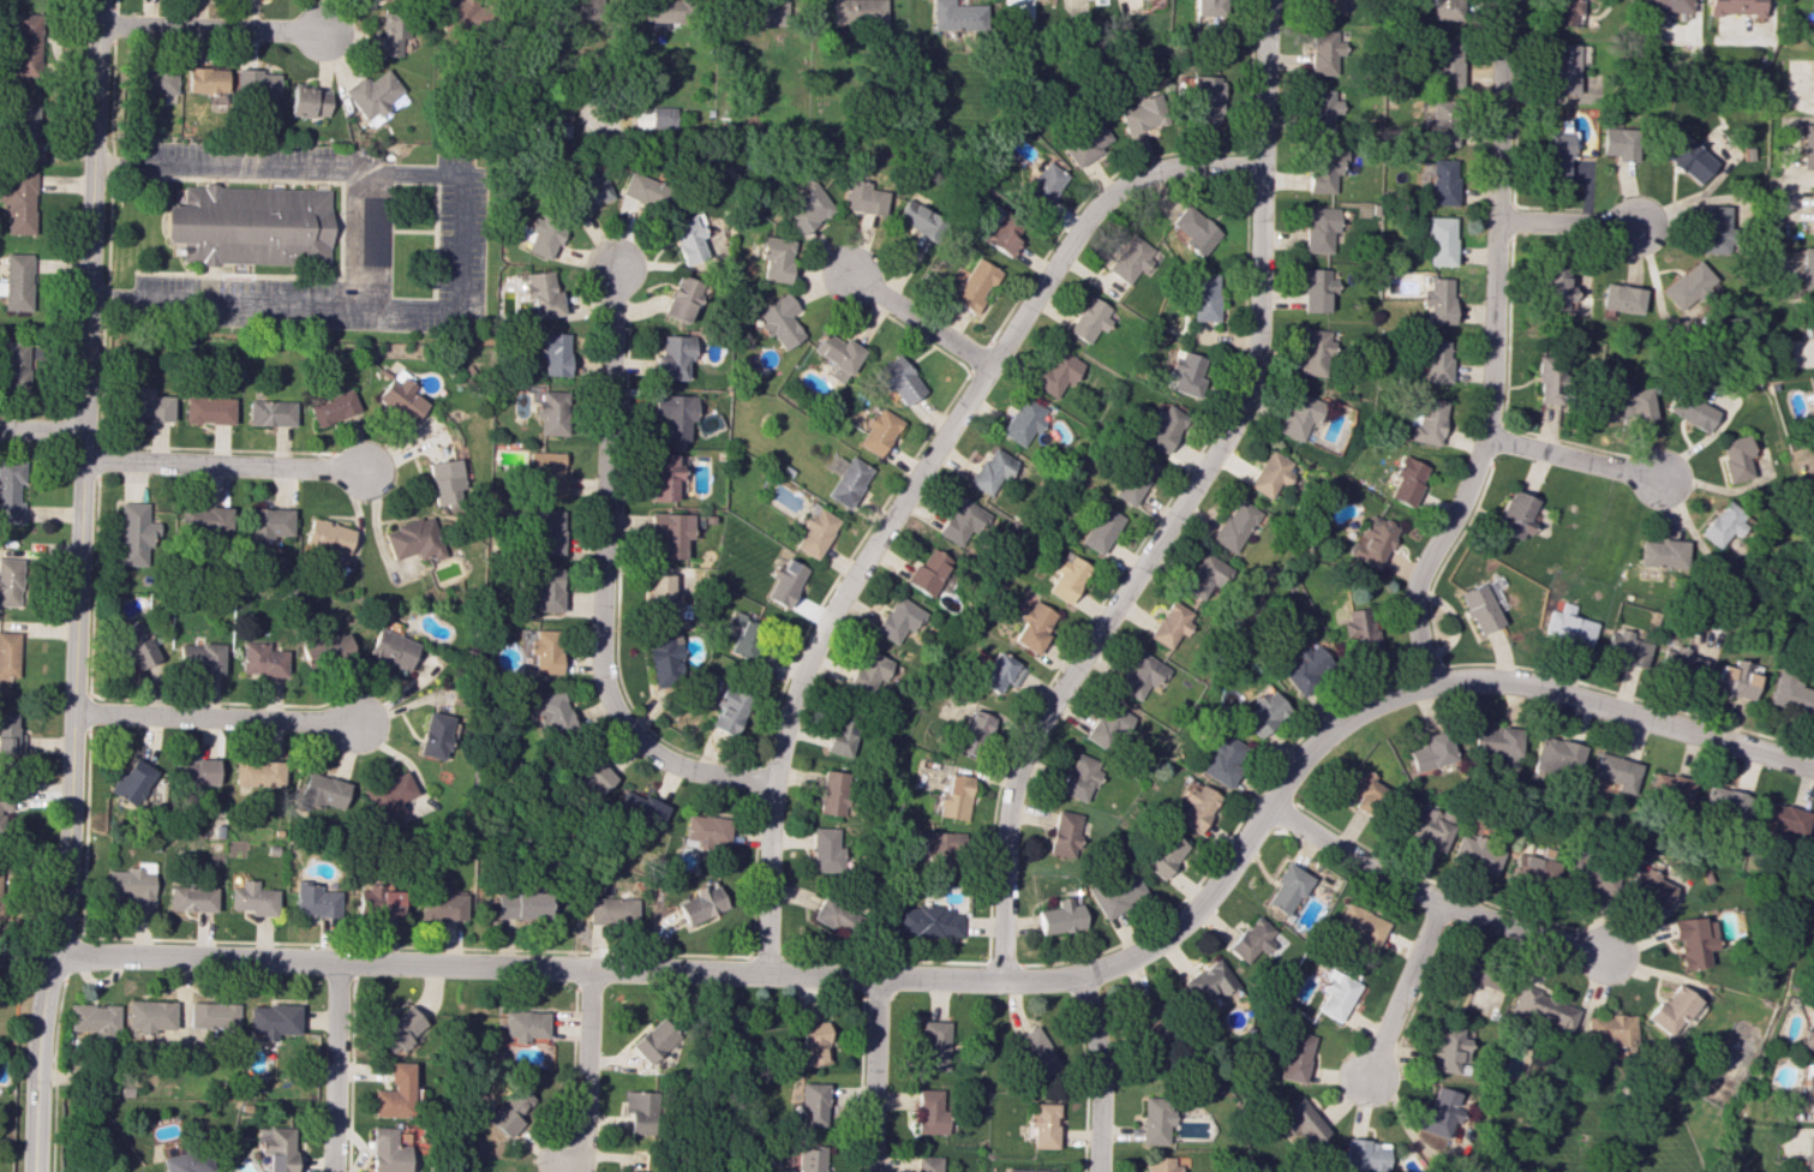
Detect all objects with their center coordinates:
building: (1098, 1)
building: (1665, 5)
building: (1207, 6)
building: (1325, 6)
building: (1734, 7)
building: (1444, 8)
building: (573, 10)
building: (857, 11)
building: (1563, 11)
building: (661, 12)
building: (765, 12)
building: (461, 13)
building: (954, 16)
road: (212, 29)
building: (396, 32)
building: (26, 46)
building: (1323, 52)
road: (615, 54)
building: (1447, 62)
building: (1564, 66)
building: (156, 79)
building: (208, 79)
building: (257, 83)
building: (372, 95)
building: (1207, 98)
building: (310, 102)
building: (1323, 109)
building: (1143, 114)
building: (657, 118)
building: (1443, 122)
building: (24, 131)
building: (1085, 140)
building: (1620, 143)
building: (1807, 146)
building: (1556, 155)
building: (1687, 159)
building: (1323, 169)
road: (324, 181)
building: (1443, 181)
building: (1044, 184)
building: (591, 187)
building: (641, 192)
building: (863, 197)
building: (18, 201)
building: (807, 210)
building: (1812, 213)
building: (918, 219)
road: (1567, 223)
building: (255, 225)
building: (1319, 228)
building: (1713, 228)
building: (1193, 229)
road: (415, 231)
parking lot: (417, 231)
building: (1000, 233)
building: (541, 237)
building: (689, 238)
road: (373, 239)
building: (1441, 240)
road: (436, 241)
road: (462, 241)
building: (776, 257)
building: (1132, 259)
building: (1806, 268)
building: (17, 282)
building: (974, 286)
building: (1687, 286)
building: (1553, 287)
building: (1316, 289)
building: (543, 294)
building: (681, 298)
building: (1202, 298)
building: (1621, 298)
building: (1439, 300)
building: (1089, 319)
building: (779, 321)
road: (922, 321)
building: (1809, 328)
building: (552, 352)
building: (1315, 352)
road: (1491, 352)
building: (837, 354)
building: (672, 357)
building: (1436, 359)
building: (16, 364)
building: (1056, 372)
building: (1185, 372)
building: (898, 378)
building: (1550, 379)
building: (402, 396)
building: (1812, 400)
building: (1627, 402)
building: (149, 405)
building: (334, 407)
building: (1692, 408)
building: (209, 409)
building: (271, 412)
building: (552, 412)
building: (675, 414)
building: (1298, 417)
building: (1023, 421)
building: (1427, 421)
building: (1161, 426)
road: (41, 430)
building: (878, 431)
building: (1734, 458)
road: (1573, 461)
road: (222, 466)
building: (547, 472)
building: (992, 472)
building: (1271, 473)
building: (663, 477)
building: (1133, 479)
building: (846, 480)
building: (1408, 480)
building: (445, 483)
building: (10, 491)
road: (909, 491)
road: (1181, 504)
building: (1515, 514)
building: (204, 520)
building: (960, 522)
building: (268, 524)
building: (1235, 525)
building: (1720, 526)
building: (1100, 530)
building: (814, 531)
building: (549, 532)
building: (671, 532)
building: (134, 534)
building: (328, 536)
building: (414, 539)
building: (1372, 540)
building: (1660, 554)
building: (927, 572)
building: (1204, 575)
building: (1066, 576)
road: (606, 580)
building: (10, 581)
building: (784, 582)
road: (77, 587)
building: (546, 588)
building: (661, 597)
building: (1481, 605)
building: (897, 620)
building: (1171, 624)
building: (1034, 626)
building: (1359, 628)
building: (1570, 629)
building: (744, 638)
building: (138, 644)
building: (1623, 647)
building: (390, 648)
building: (324, 650)
building: (545, 651)
building: (8, 653)
building: (200, 657)
building: (261, 659)
building: (663, 659)
building: (1678, 662)
building: (1306, 669)
building: (867, 671)
building: (1000, 672)
building: (1142, 675)
building: (1735, 680)
building: (1791, 693)
building: (728, 710)
building: (546, 712)
building: (1264, 712)
road: (212, 718)
building: (1108, 726)
building: (840, 732)
building: (972, 732)
building: (11, 735)
building: (433, 735)
building: (1496, 743)
building: (1431, 752)
building: (1556, 755)
building: (1222, 758)
building: (197, 771)
building: (1614, 771)
building: (257, 773)
building: (589, 775)
building: (1080, 777)
building: (132, 781)
building: (1668, 788)
building: (1360, 789)
building: (321, 791)
building: (831, 793)
building: (388, 795)
building: (952, 797)
building: (1724, 802)
building: (1196, 807)
building: (636, 809)
building: (1, 812)
building: (1779, 820)
building: (1429, 827)
building: (704, 830)
building: (1062, 833)
building: (938, 845)
building: (825, 850)
building: (1162, 854)
building: (1475, 854)
building: (1531, 868)
building: (1585, 875)
building: (132, 884)
building: (1647, 887)
building: (1286, 889)
building: (1, 891)
building: (1115, 892)
building: (191, 898)
building: (251, 898)
road: (1426, 898)
building: (315, 901)
building: (377, 901)
building: (700, 903)
building: (439, 904)
building: (520, 904)
building: (609, 910)
building: (833, 914)
building: (1059, 917)
building: (923, 921)
building: (1359, 925)
building: (1250, 939)
building: (1689, 940)
building: (1477, 975)
road: (972, 980)
building: (1210, 982)
road: (1403, 992)
building: (1335, 994)
road: (180, 1001)
building: (1666, 1009)
building: (1543, 1010)
building: (149, 1015)
building: (210, 1016)
building: (94, 1018)
building: (271, 1019)
building: (522, 1024)
building: (1149, 1027)
building: (396, 1029)
building: (1813, 1036)
building: (653, 1040)
building: (812, 1042)
building: (933, 1045)
building: (1448, 1050)
building: (1813, 1051)
building: (1035, 1052)
building: (1295, 1056)
road: (330, 1068)
road: (585, 1070)
road: (1098, 1074)
road: (872, 1075)
building: (1808, 1086)
building: (390, 1093)
building: (809, 1104)
building: (637, 1111)
building: (928, 1111)
building: (508, 1112)
building: (1438, 1112)
building: (1154, 1119)
building: (1041, 1124)
building: (274, 1148)
building: (382, 1152)
building: (1365, 1155)
building: (1807, 1155)
building: (808, 1159)
building: (185, 1161)
building: (926, 1164)
building: (1162, 1165)
building: (1031, 1170)

